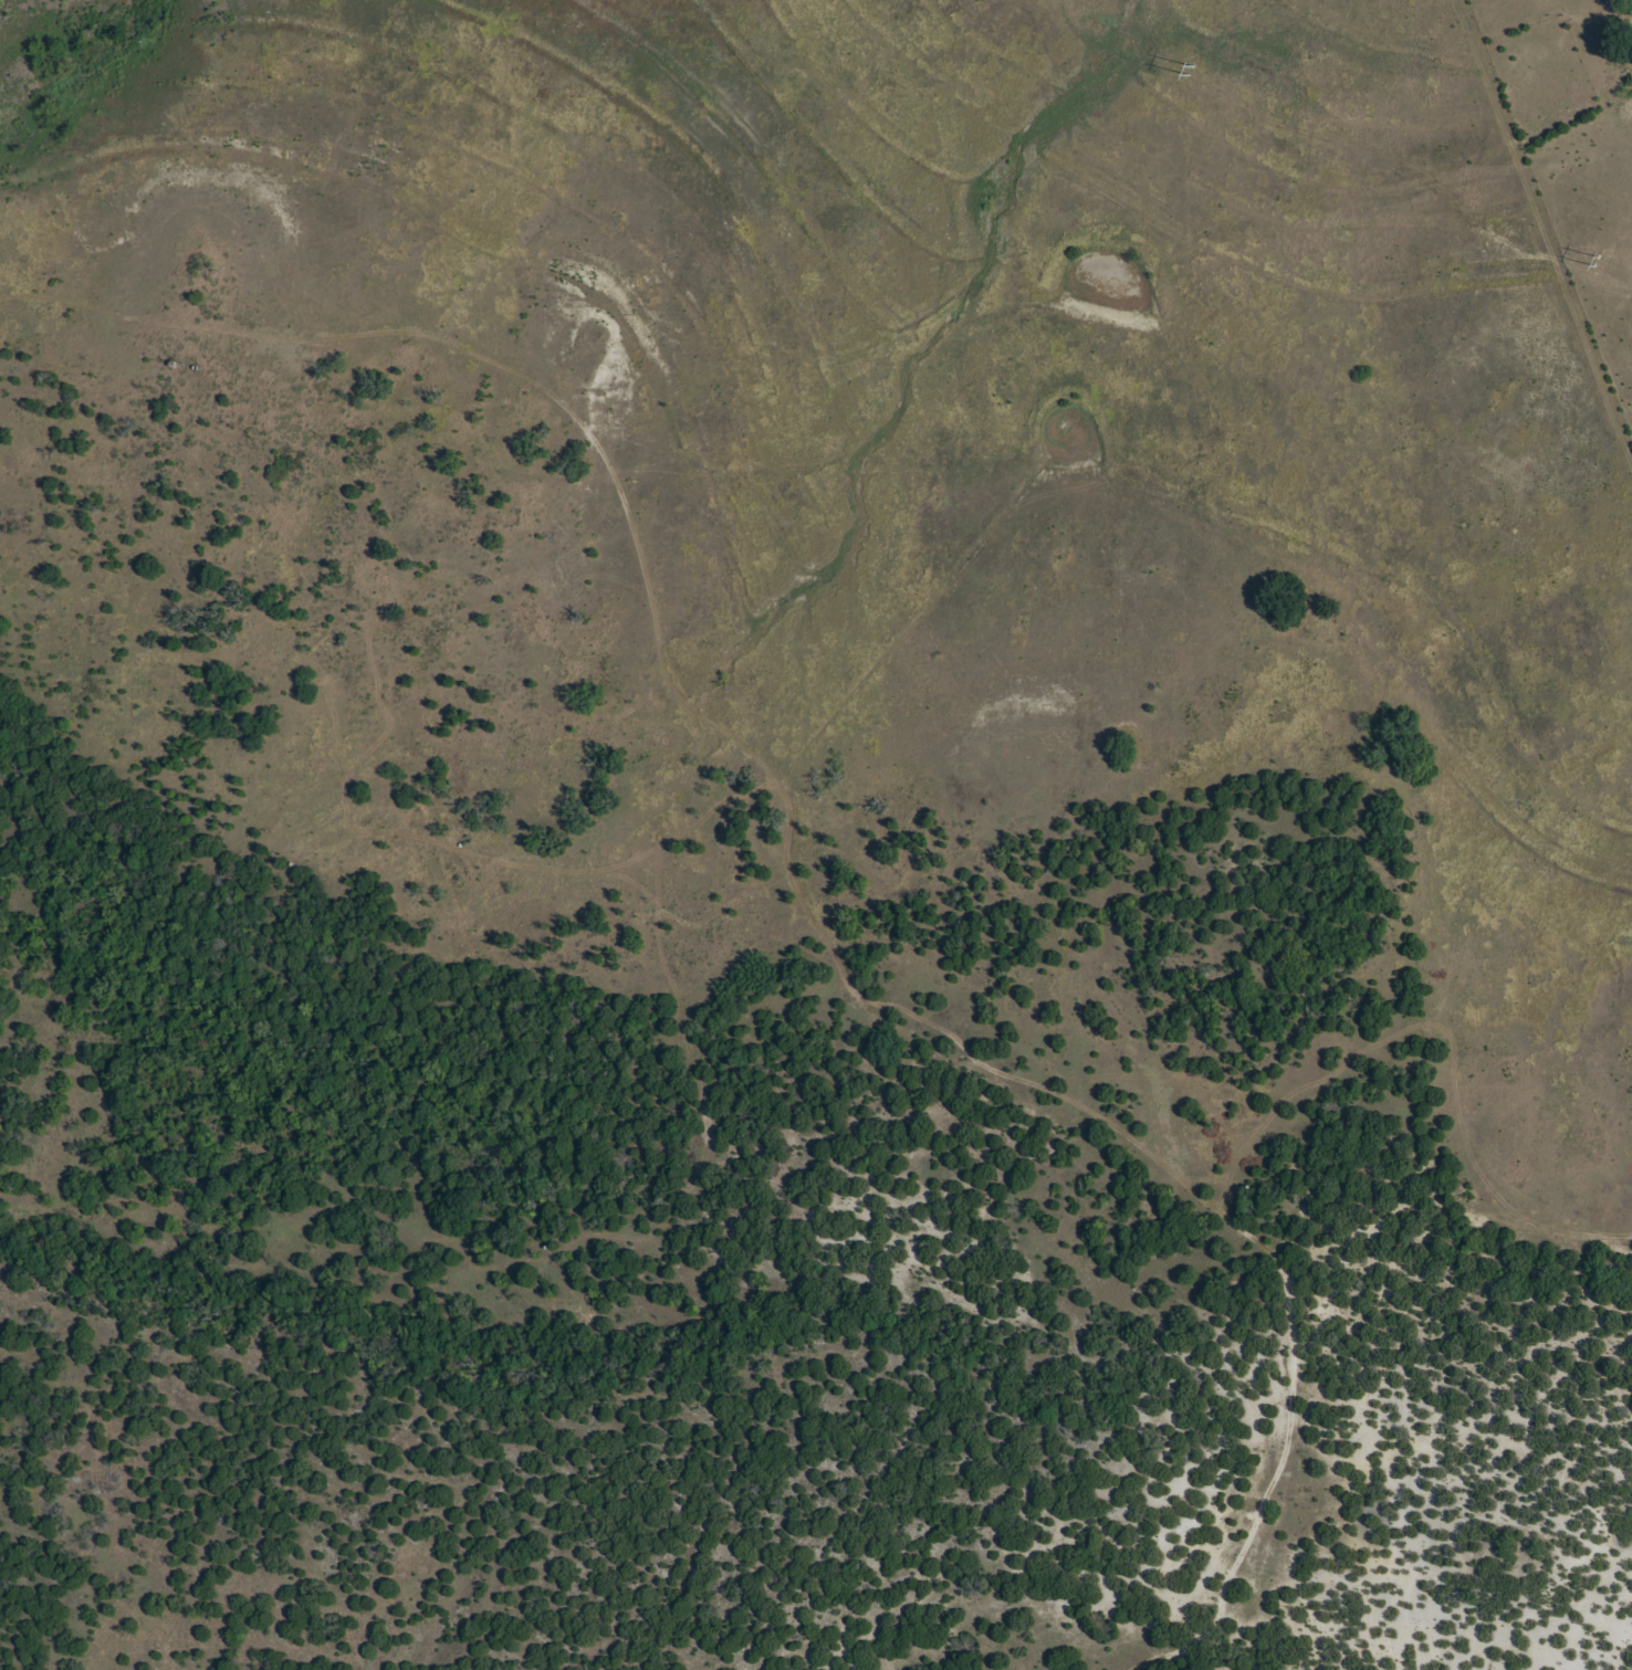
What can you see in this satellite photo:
power tower: (1144, 50)
power tower: (1473, 204)

